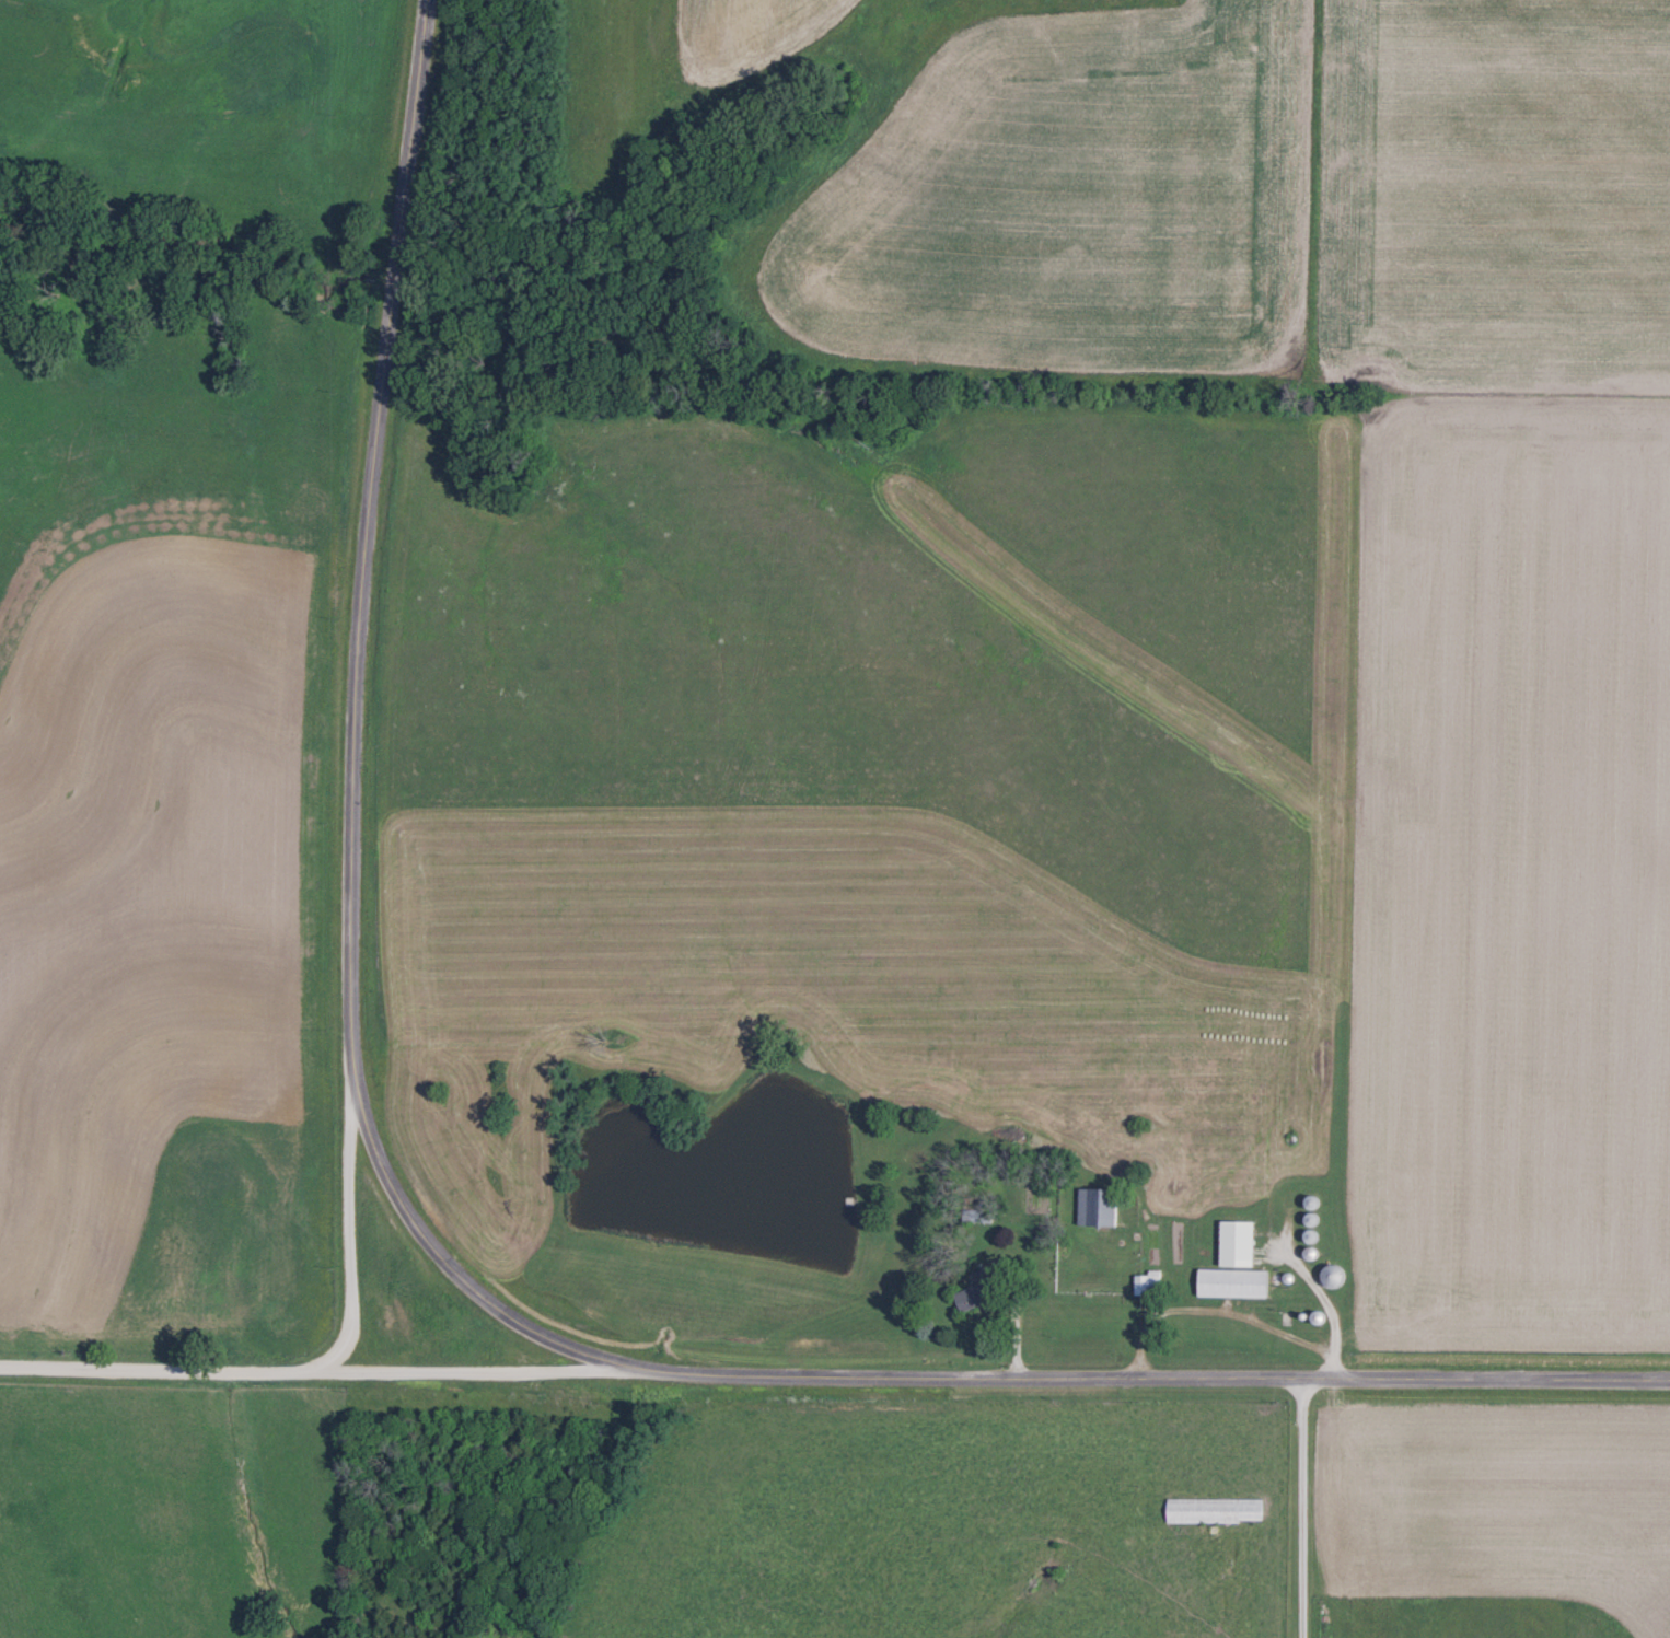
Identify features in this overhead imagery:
building: (1098, 1207)
building: (1237, 1243)
road: (436, 1245)
building: (1332, 1276)
building: (1232, 1282)
building: (1147, 1283)
building: (981, 1291)
road: (1018, 1312)
road: (1223, 1312)
road: (298, 1371)
road: (473, 1371)
road: (1306, 1508)
building: (1215, 1510)

